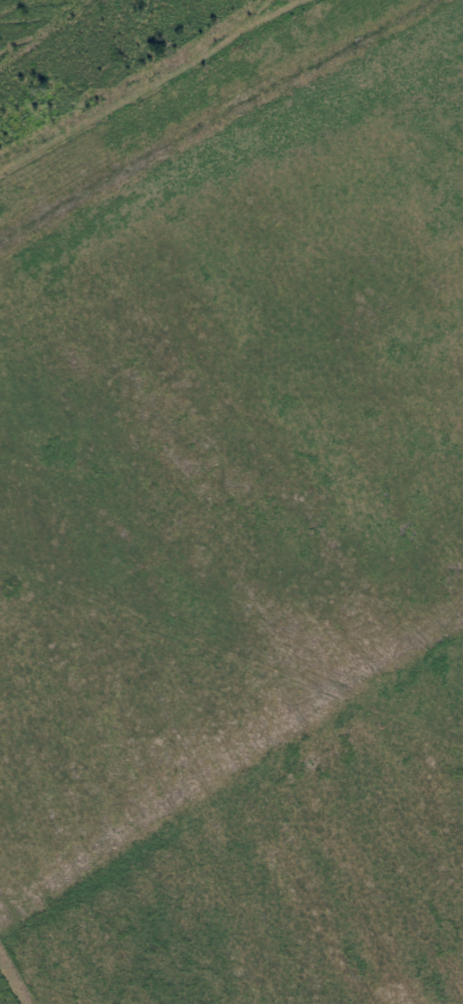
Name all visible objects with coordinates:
road: (11, 983)

